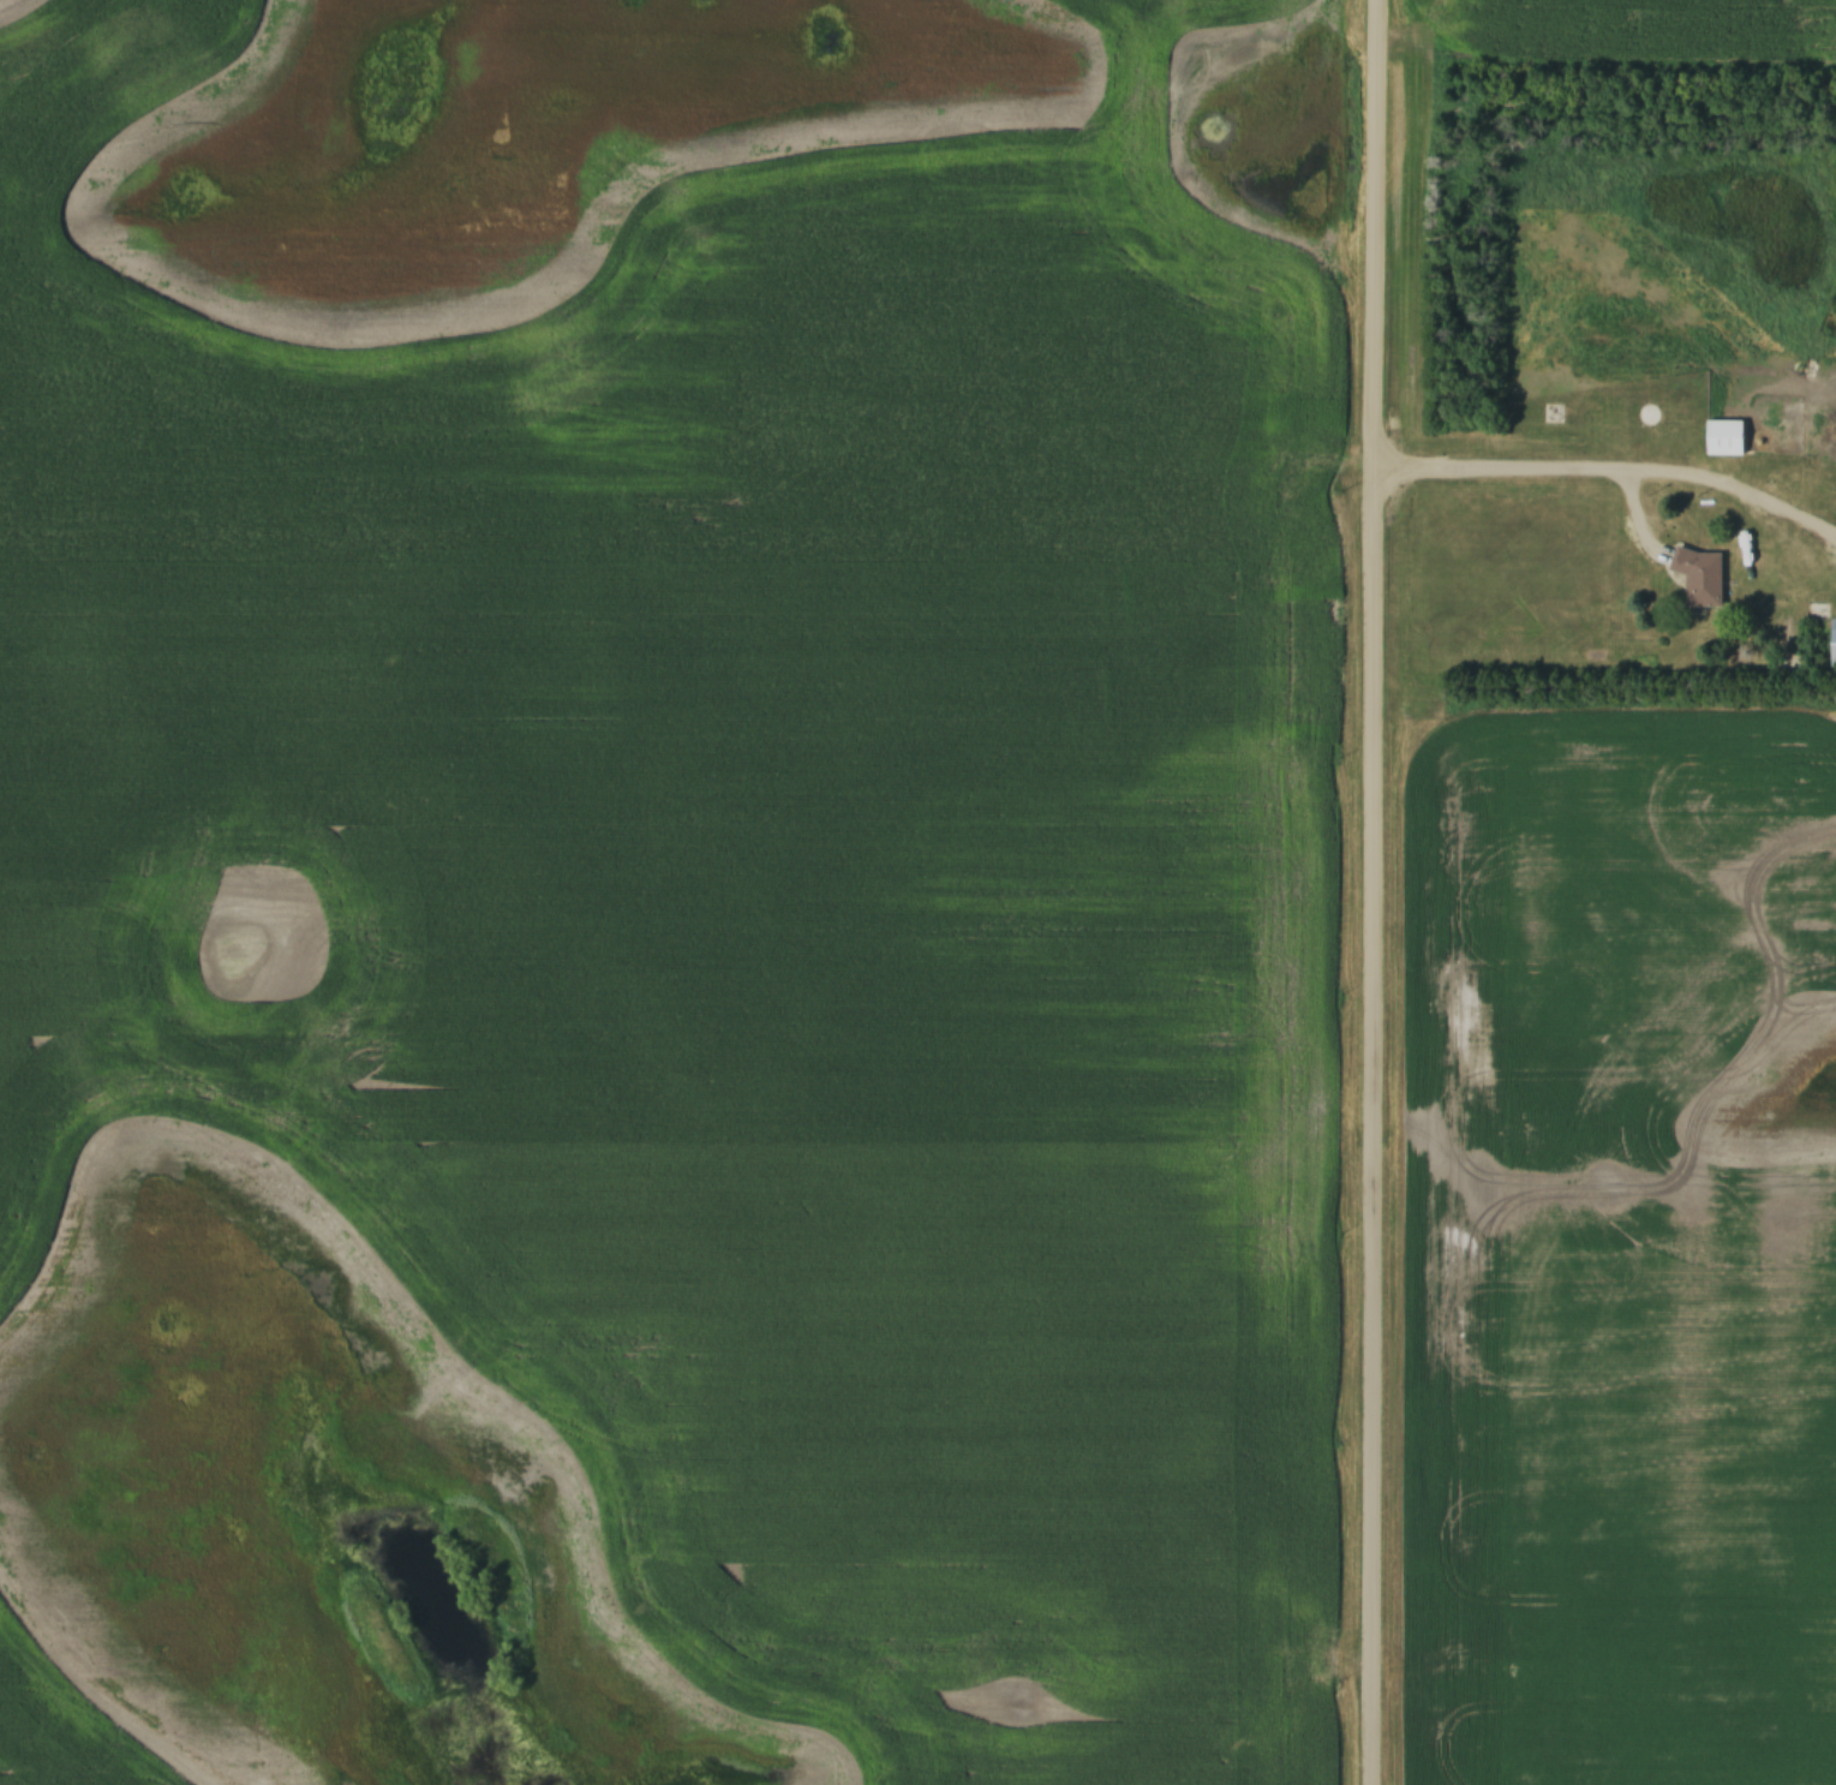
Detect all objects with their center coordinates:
building: (1720, 440)
building: (1694, 577)
building: (1829, 644)
road: (1376, 891)

